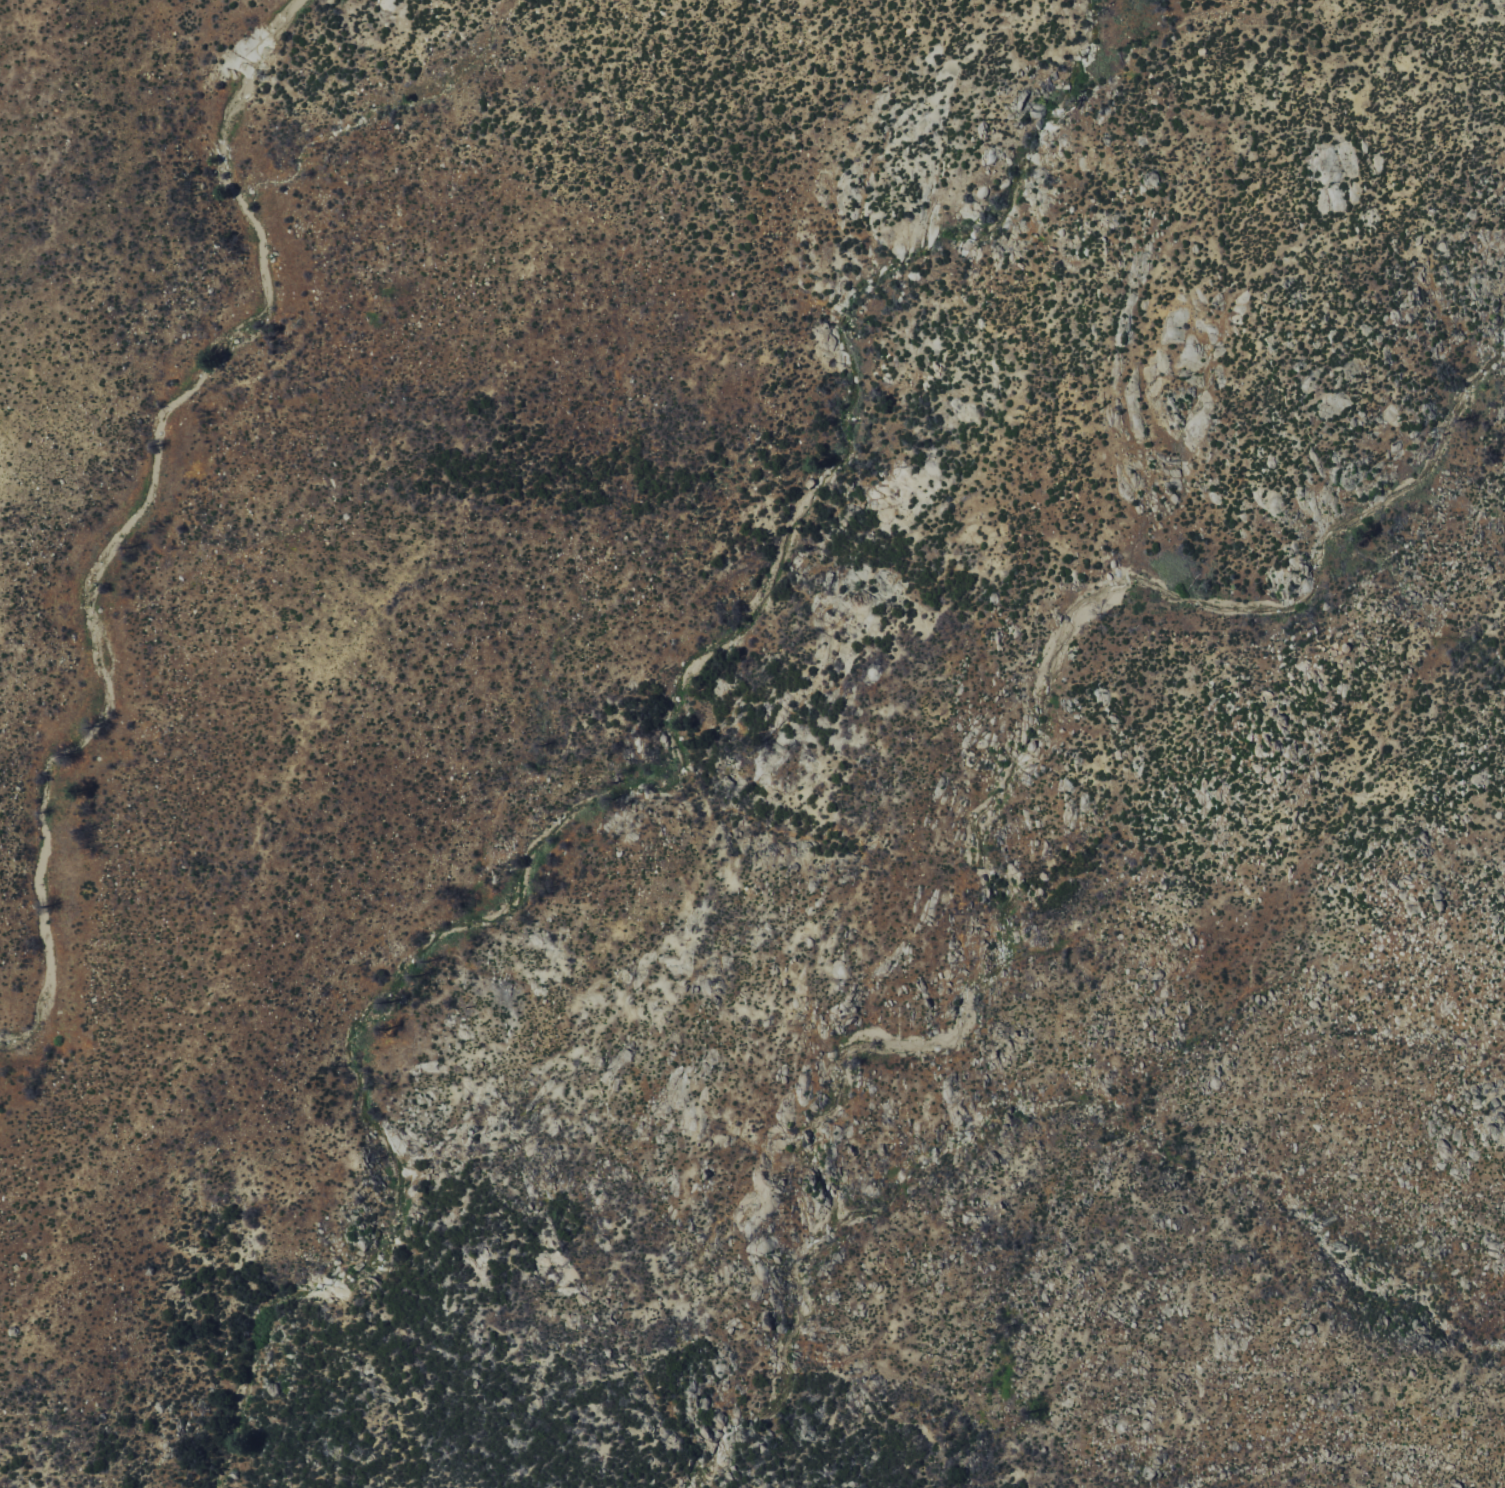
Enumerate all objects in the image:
road: (135, 530)

